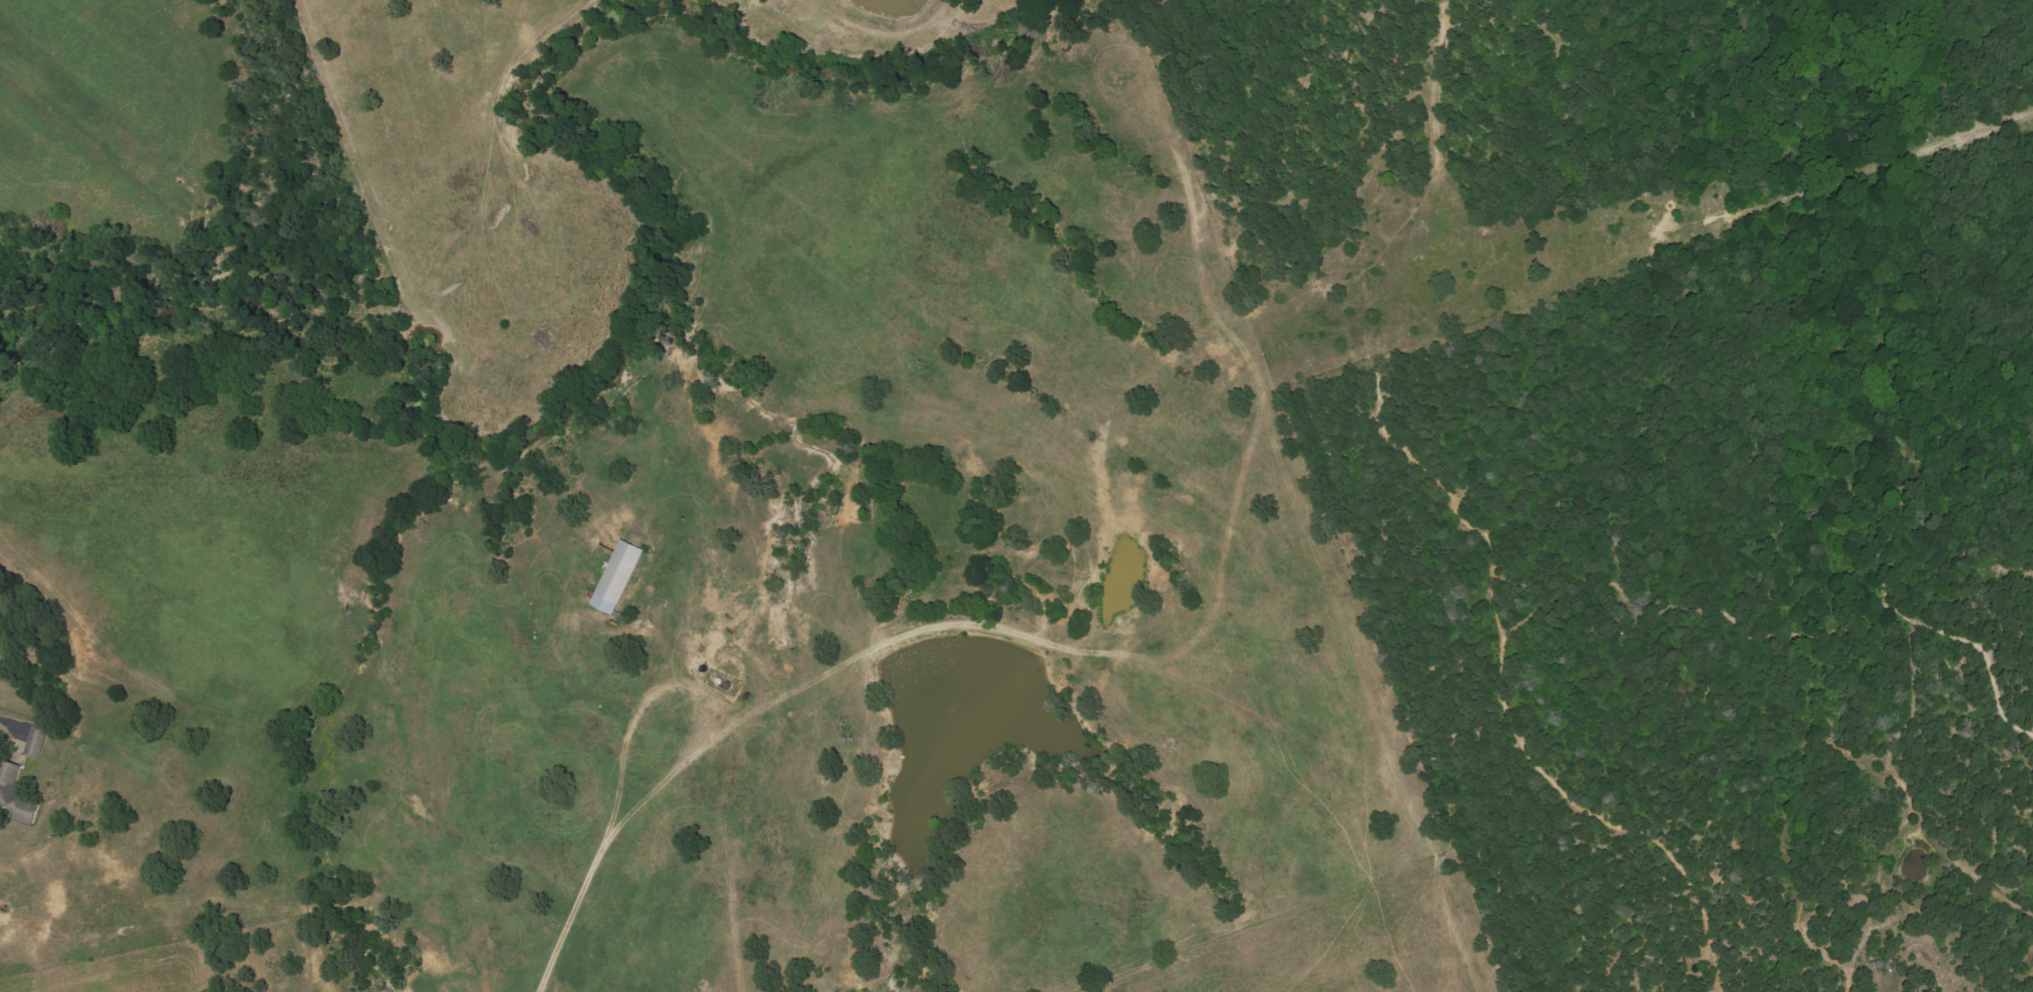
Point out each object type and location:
building: (617, 578)
road: (574, 911)

